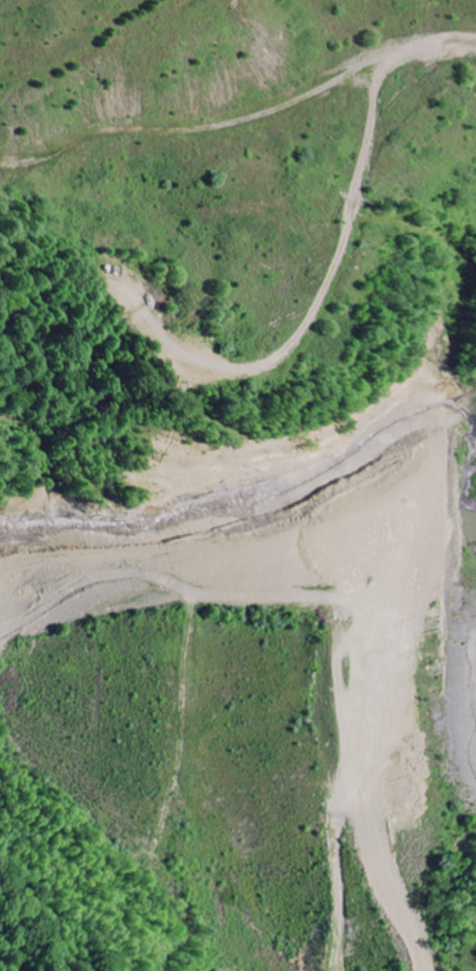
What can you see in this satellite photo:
quarry: (238, 485)

